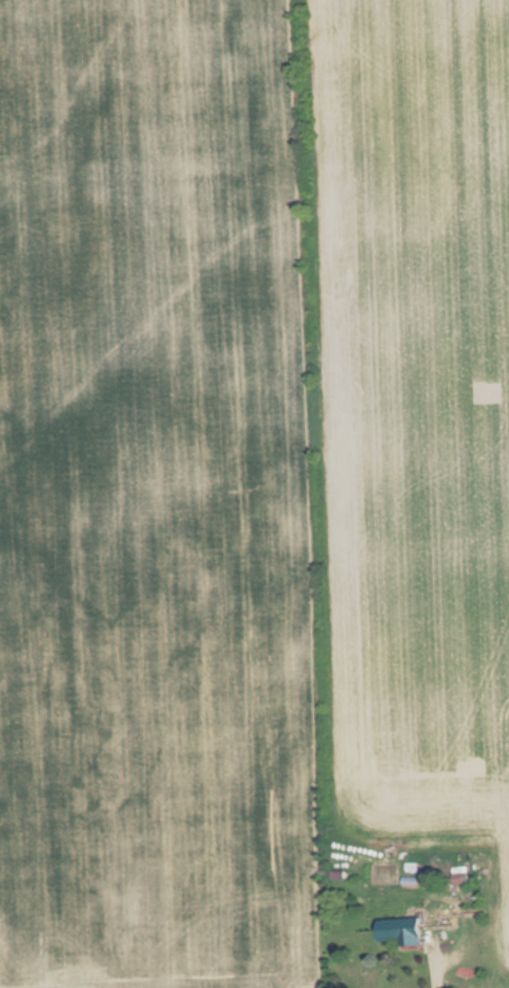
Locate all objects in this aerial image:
building: (461, 877)
building: (404, 934)

